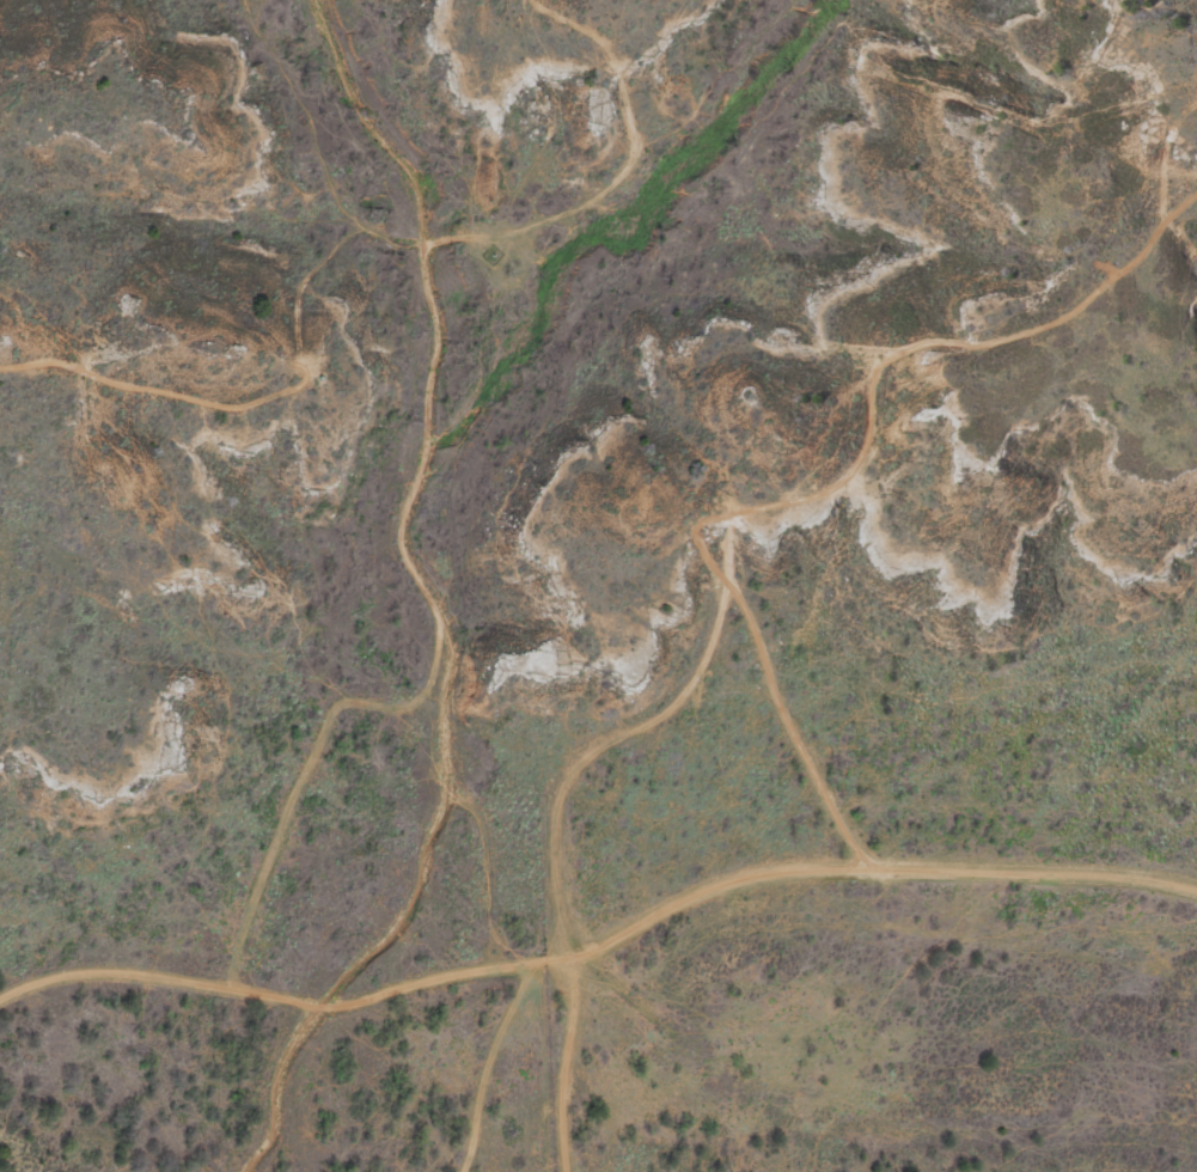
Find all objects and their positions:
road: (599, 945)

